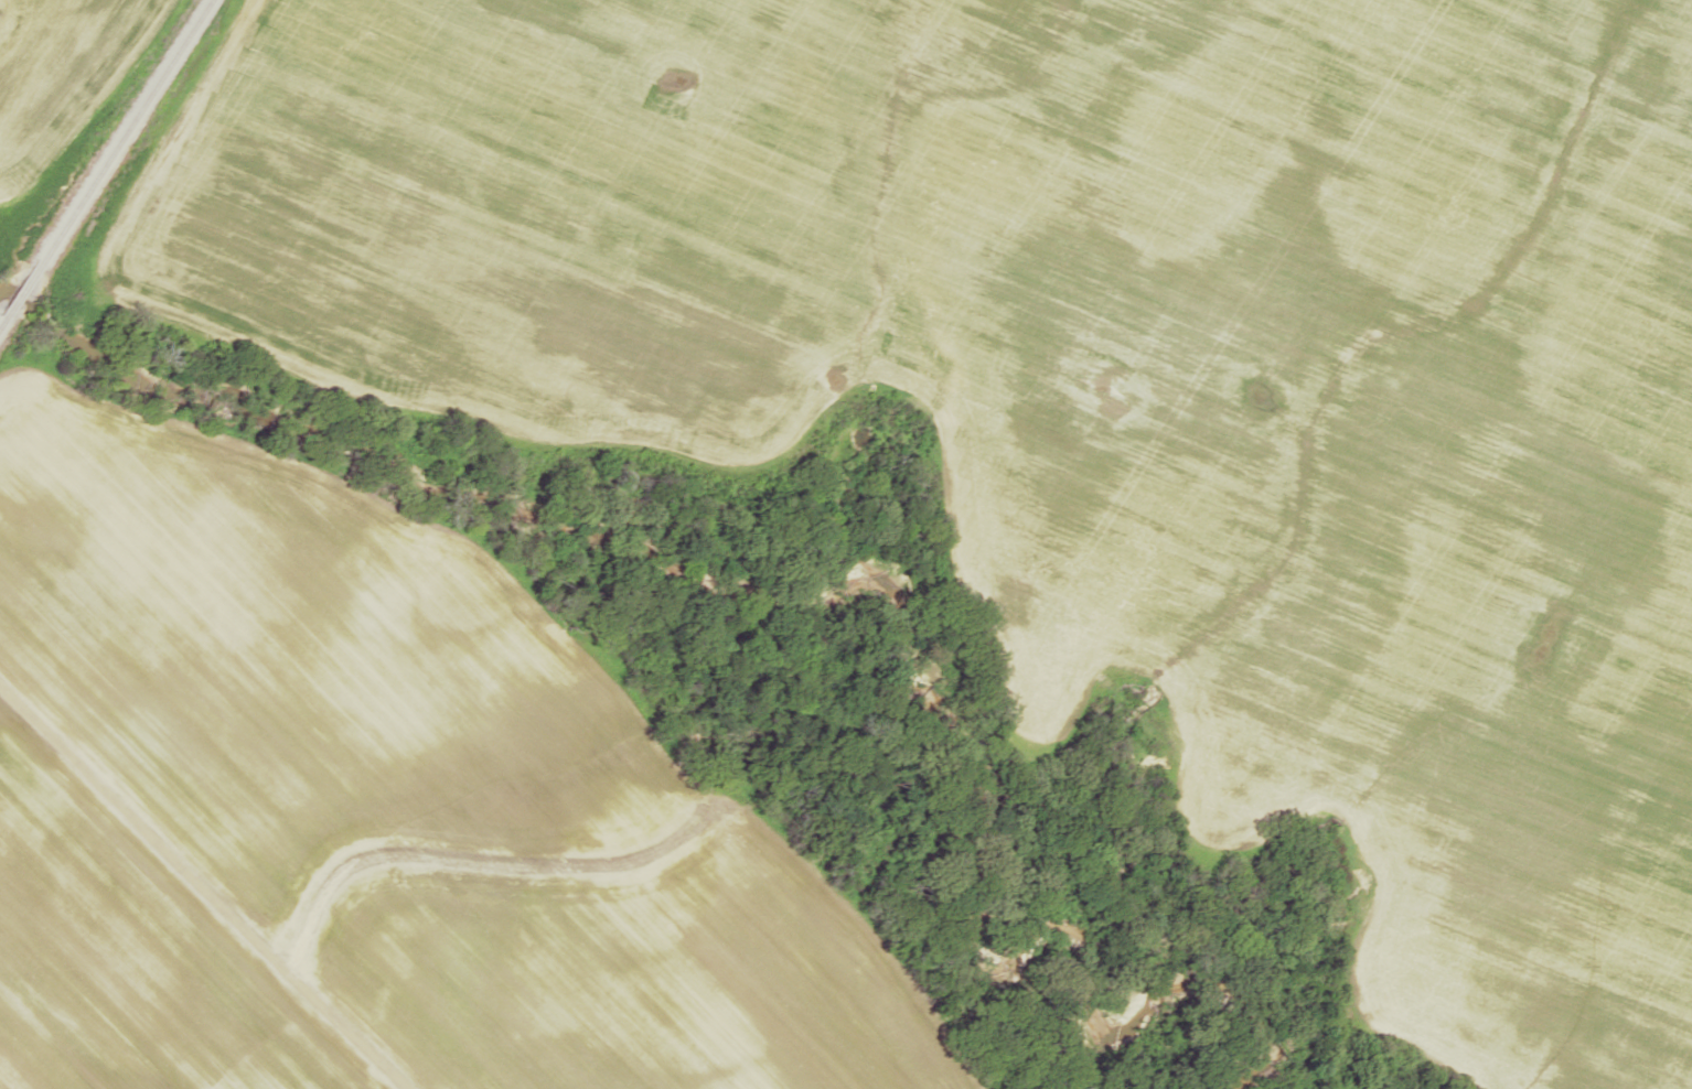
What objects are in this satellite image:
railway: (110, 171)
road: (216, 887)

